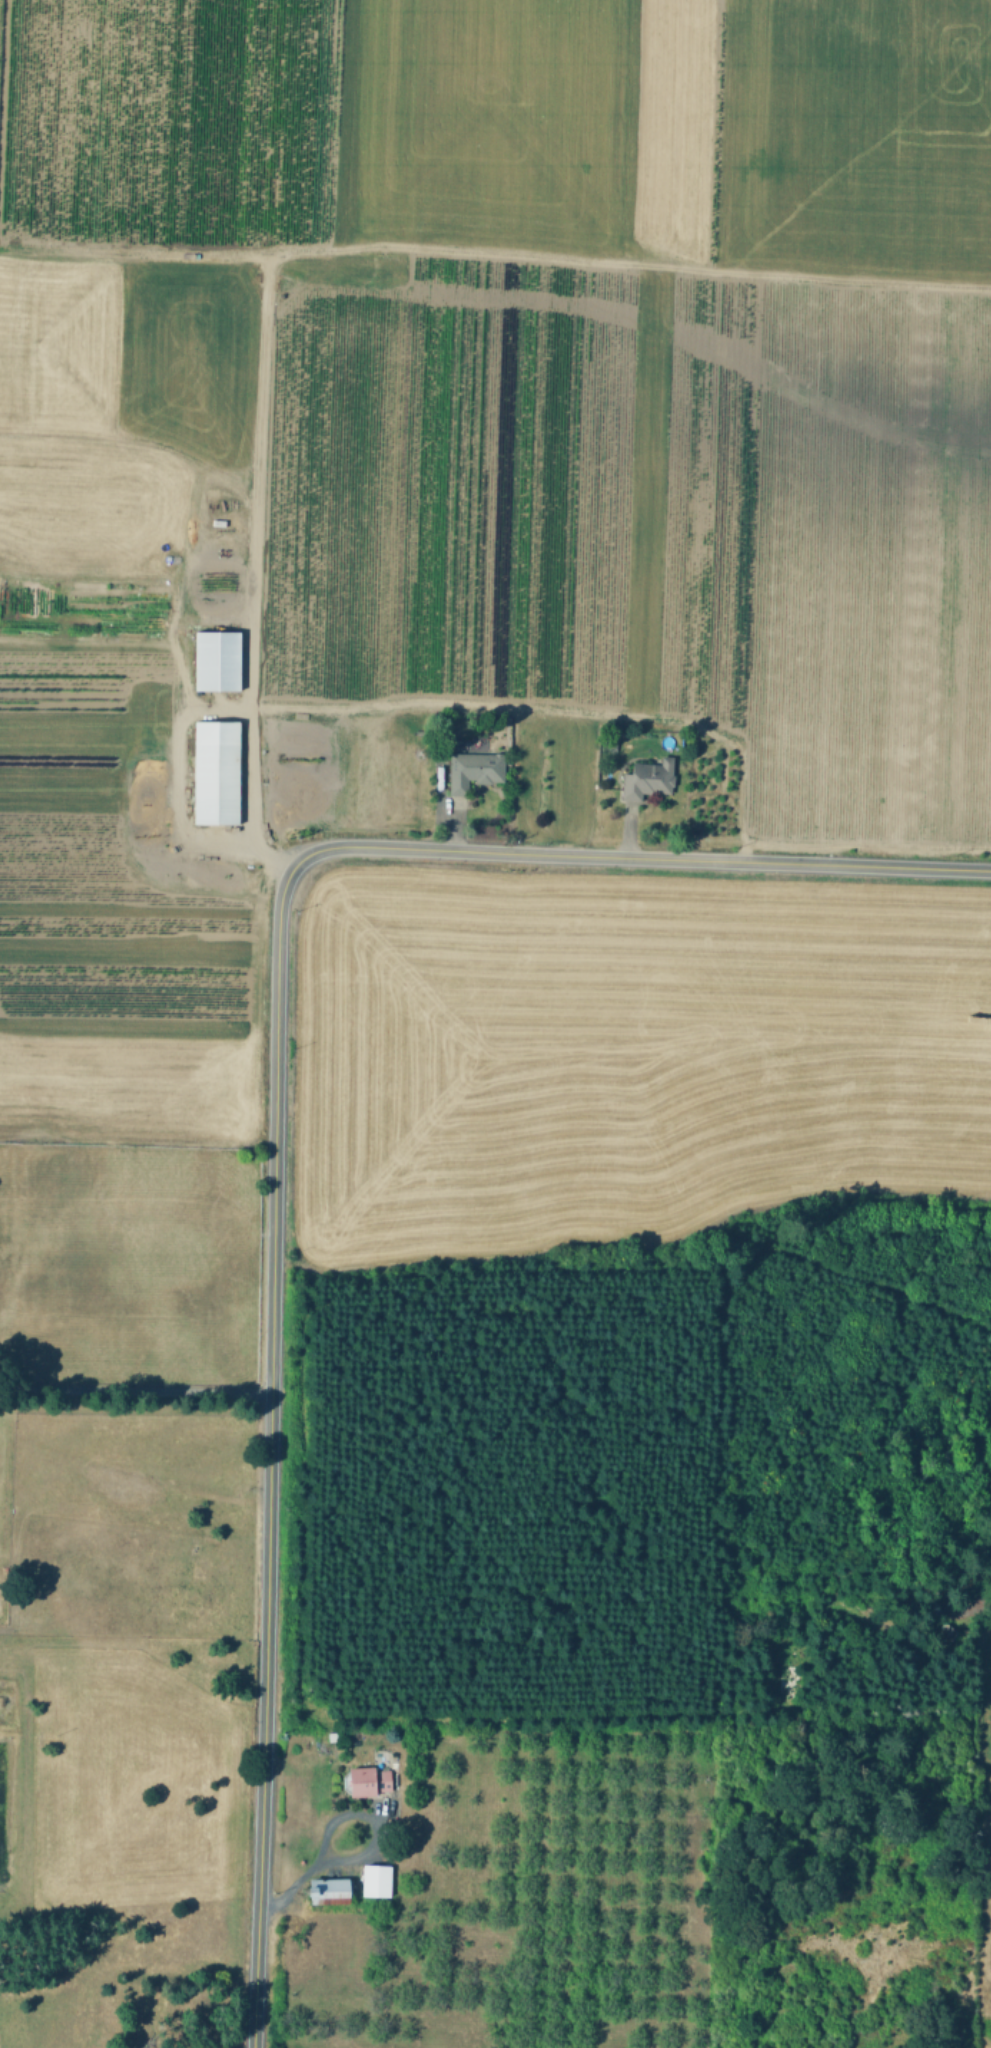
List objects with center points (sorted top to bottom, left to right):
road: (760, 137)
road: (509, 255)
road: (134, 441)
building: (218, 661)
road: (249, 695)
building: (475, 770)
road: (173, 771)
building: (217, 773)
building: (649, 778)
road: (442, 805)
road: (628, 829)
road: (275, 1104)
road: (135, 1391)
building: (947, 1634)
building: (368, 1781)
road: (364, 1853)
building: (377, 1881)
building: (326, 1889)

